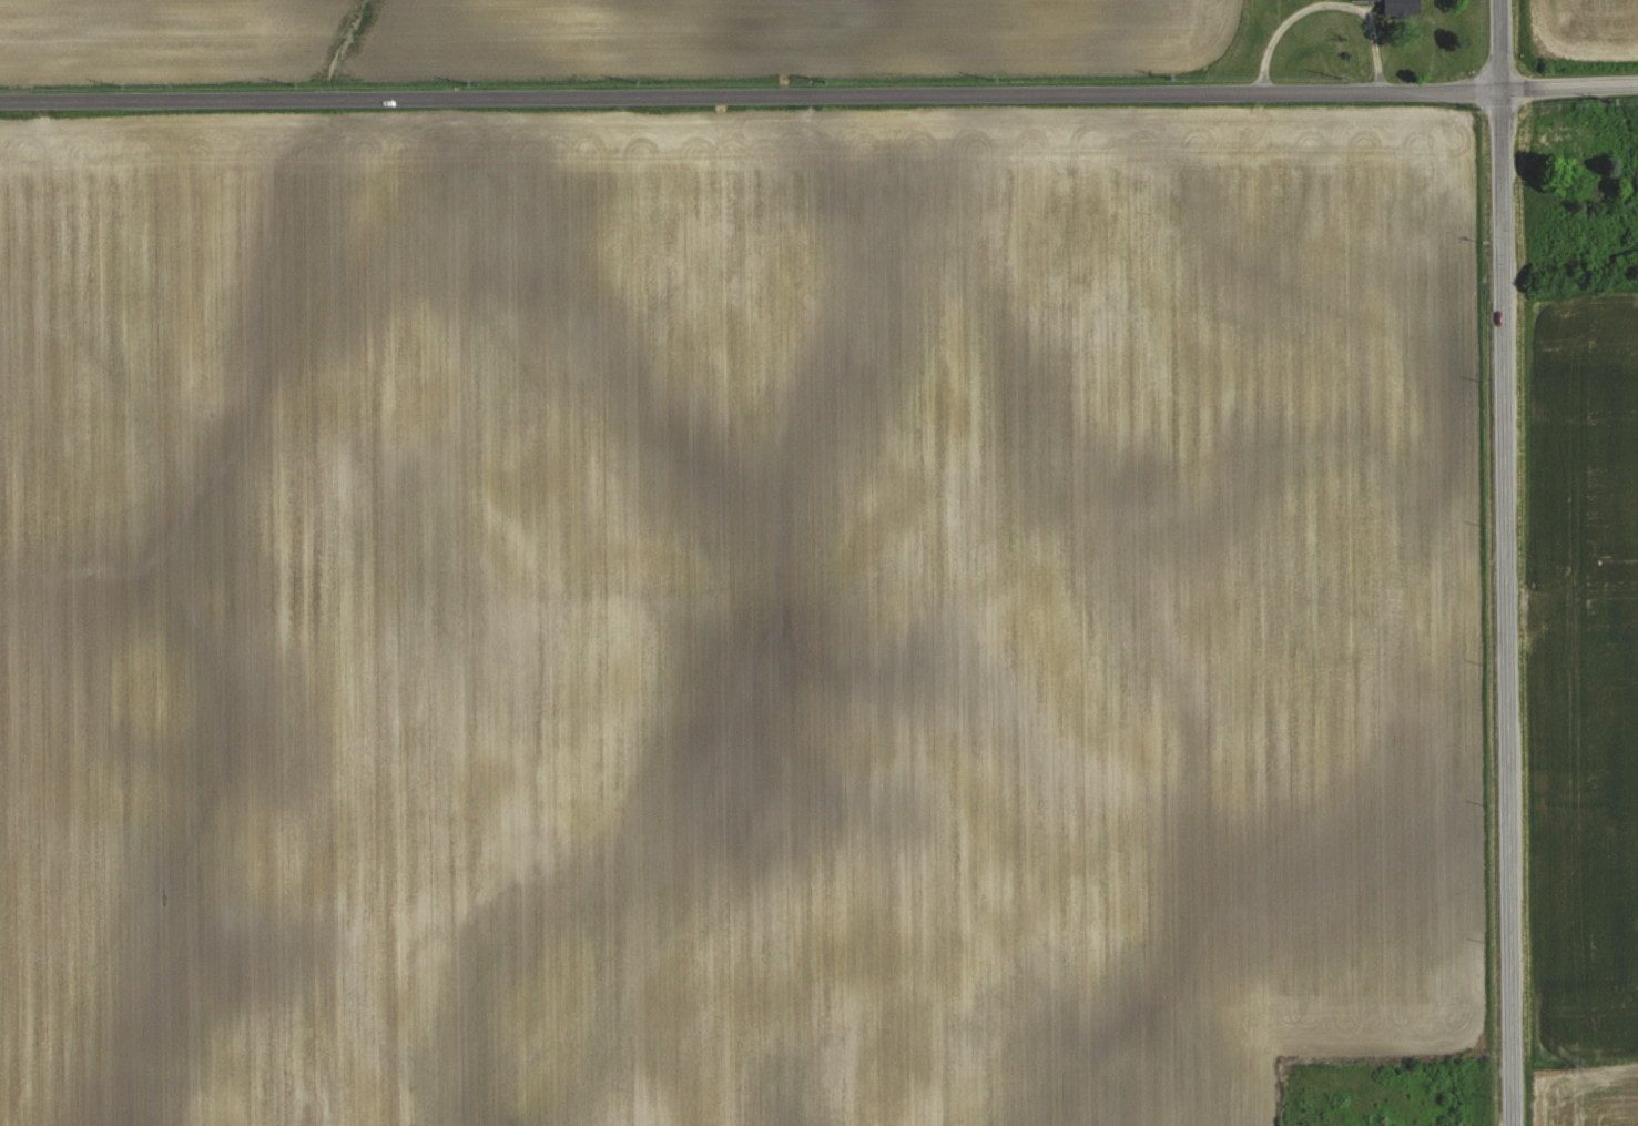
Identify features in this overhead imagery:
building: (1401, 7)
road: (1265, 33)
road: (1371, 38)
road: (818, 94)
building: (1558, 135)
road: (1506, 562)

